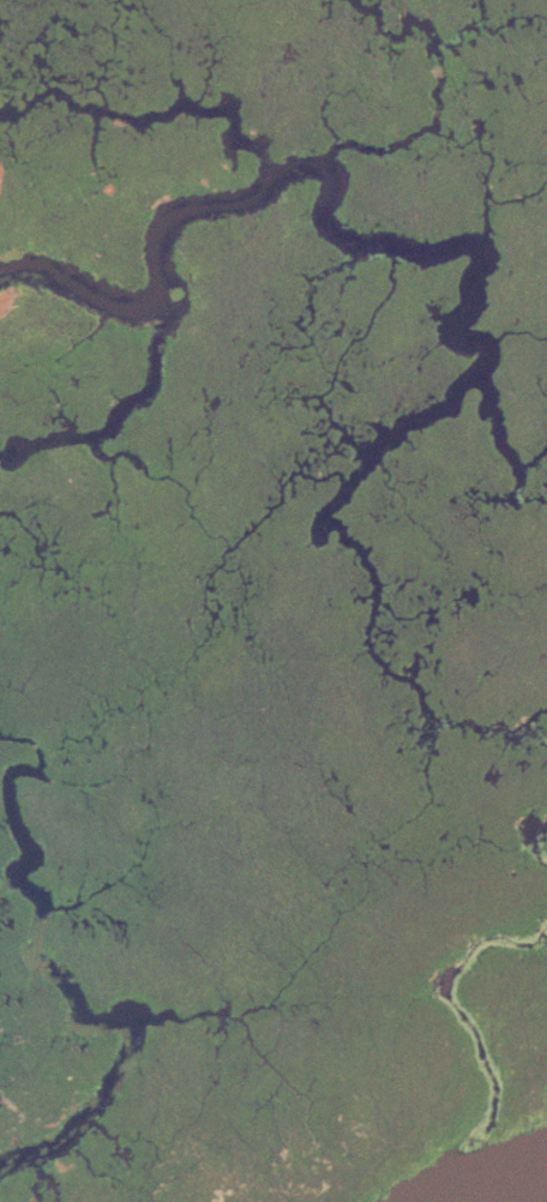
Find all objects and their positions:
river: (531, 1194)

